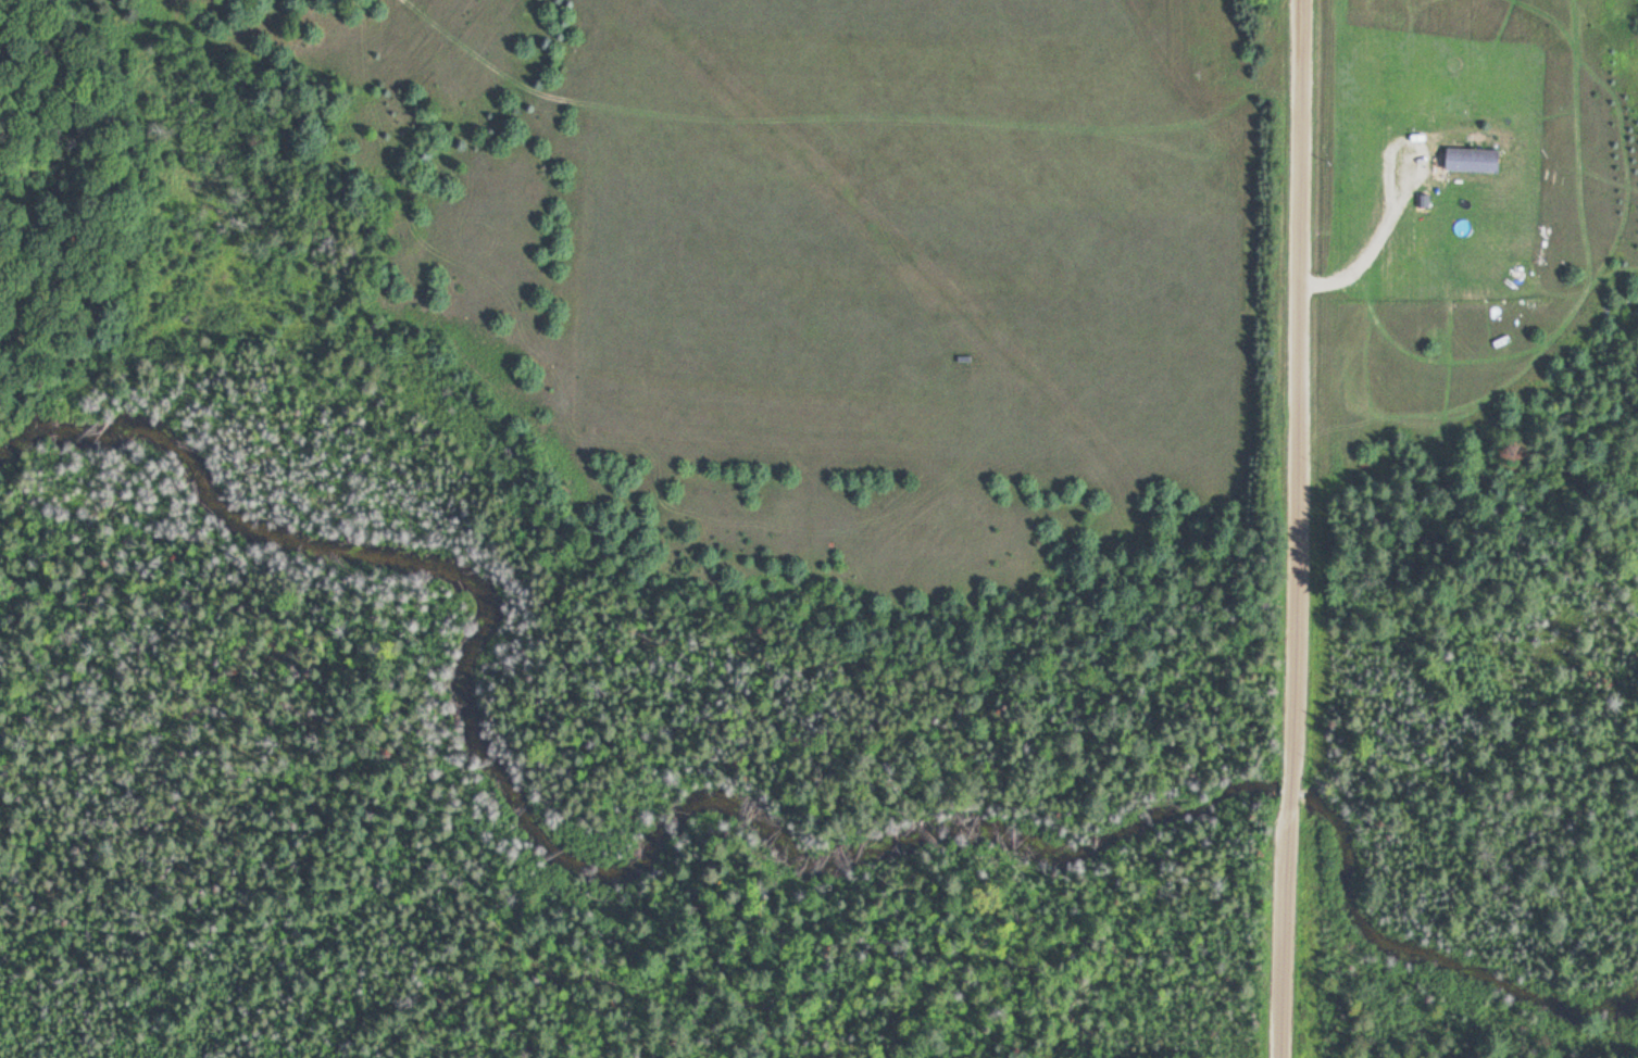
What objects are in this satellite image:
road: (1301, 140)
building: (1468, 159)
road: (1406, 190)
road: (1295, 669)

